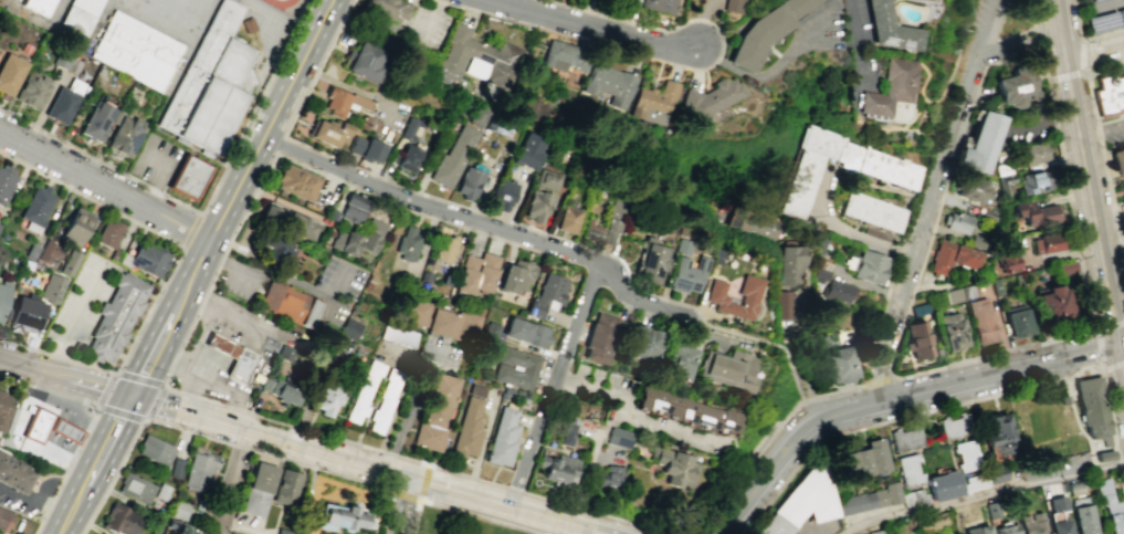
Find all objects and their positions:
building: (929, 0)
track: (279, 1)
park: (129, 4)
park: (203, 4)
building: (660, 4)
building: (36, 6)
building: (734, 6)
building: (796, 7)
building: (385, 8)
road: (1103, 8)
road: (483, 13)
building: (82, 14)
parking lot: (986, 14)
parking lot: (1103, 15)
park: (1019, 18)
road: (1038, 18)
park: (176, 19)
road: (736, 25)
road: (589, 27)
parking lot: (831, 28)
building: (889, 28)
road: (663, 30)
road: (991, 30)
road: (334, 35)
building: (758, 36)
road: (1082, 40)
road: (860, 43)
road: (997, 45)
building: (137, 51)
road: (1017, 51)
road: (1088, 53)
building: (566, 55)
building: (494, 56)
road: (992, 59)
building: (62, 61)
building: (364, 61)
road: (1016, 63)
road: (300, 70)
road: (1080, 73)
road: (1083, 73)
building: (10, 74)
road: (763, 74)
road: (314, 76)
building: (610, 84)
building: (210, 86)
building: (890, 87)
building: (1017, 88)
road: (351, 91)
building: (31, 93)
building: (1110, 95)
building: (343, 101)
building: (712, 101)
building: (655, 102)
building: (62, 106)
building: (477, 115)
building: (96, 122)
building: (503, 126)
building: (327, 130)
road: (1096, 130)
parking lot: (1114, 134)
building: (126, 138)
building: (984, 143)
road: (279, 144)
building: (367, 147)
building: (408, 147)
building: (528, 150)
road: (1100, 151)
building: (1037, 153)
building: (453, 156)
building: (1118, 158)
road: (74, 168)
building: (890, 171)
road: (166, 174)
building: (188, 176)
road: (1091, 177)
building: (547, 179)
building: (1123, 179)
building: (469, 180)
building: (294, 181)
building: (1038, 181)
building: (7, 184)
road: (354, 188)
road: (1070, 188)
building: (977, 189)
road: (239, 190)
railway: (1088, 190)
building: (502, 193)
building: (537, 205)
building: (36, 206)
road: (429, 206)
building: (353, 208)
road: (204, 209)
building: (873, 211)
road: (1084, 212)
building: (1037, 213)
building: (567, 219)
building: (750, 220)
building: (959, 221)
building: (285, 222)
building: (613, 222)
road: (180, 223)
building: (76, 226)
road: (845, 228)
road: (532, 229)
building: (592, 230)
road: (926, 230)
road: (155, 231)
road: (192, 231)
building: (109, 234)
building: (363, 238)
building: (1048, 242)
building: (407, 243)
building: (682, 245)
road: (209, 247)
building: (444, 249)
building: (49, 253)
building: (276, 253)
building: (953, 256)
building: (149, 259)
building: (1009, 259)
building: (651, 260)
building: (71, 263)
building: (792, 264)
building: (868, 265)
building: (1067, 268)
road: (197, 273)
building: (479, 273)
building: (686, 274)
building: (517, 276)
road: (283, 280)
building: (51, 287)
building: (841, 291)
building: (549, 295)
building: (954, 295)
road: (637, 297)
building: (716, 297)
building: (3, 299)
parking lot: (80, 302)
road: (201, 302)
road: (207, 302)
building: (790, 304)
building: (1053, 304)
building: (288, 305)
building: (413, 311)
building: (25, 313)
road: (238, 316)
road: (70, 317)
building: (114, 317)
road: (902, 320)
building: (981, 321)
building: (1017, 321)
building: (452, 324)
road: (266, 328)
building: (349, 328)
road: (188, 329)
building: (491, 329)
building: (952, 331)
building: (528, 333)
building: (398, 334)
building: (600, 338)
building: (832, 339)
building: (916, 339)
building: (643, 344)
road: (159, 345)
building: (221, 345)
road: (1101, 345)
road: (21, 346)
road: (232, 350)
building: (284, 353)
road: (52, 355)
road: (175, 357)
road: (202, 360)
building: (680, 362)
building: (840, 364)
road: (87, 365)
building: (240, 365)
road: (25, 368)
building: (518, 368)
building: (731, 369)
road: (1007, 373)
road: (212, 378)
road: (14, 379)
road: (164, 381)
road: (552, 385)
road: (92, 386)
building: (285, 391)
building: (364, 391)
road: (55, 392)
road: (185, 392)
building: (325, 397)
traffic signals: (132, 398)
road: (211, 400)
building: (385, 400)
building: (662, 402)
road: (958, 404)
road: (233, 407)
building: (4, 409)
road: (408, 411)
building: (435, 412)
road: (816, 412)
road: (185, 413)
building: (702, 416)
road: (146, 419)
road: (634, 419)
building: (727, 420)
building: (1097, 421)
building: (469, 422)
road: (20, 423)
building: (36, 423)
building: (953, 426)
building: (64, 430)
building: (566, 432)
building: (999, 432)
road: (15, 436)
road: (134, 437)
road: (334, 437)
building: (619, 437)
building: (905, 437)
building: (505, 438)
road: (78, 443)
road: (242, 446)
building: (154, 450)
road: (798, 451)
road: (326, 454)
building: (965, 456)
building: (863, 461)
road: (96, 465)
building: (674, 465)
road: (65, 467)
building: (175, 468)
building: (559, 469)
building: (908, 469)
building: (199, 471)
building: (13, 473)
building: (996, 474)
road: (342, 475)
building: (610, 477)
road: (232, 481)
building: (975, 482)
building: (284, 483)
building: (256, 484)
building: (943, 485)
building: (135, 488)
building: (160, 491)
road: (39, 493)
road: (983, 494)
building: (913, 498)
road: (421, 499)
building: (869, 499)
building: (801, 502)
road: (34, 503)
building: (1055, 503)
road: (46, 504)
road: (407, 507)
road: (503, 509)
building: (991, 509)
building: (179, 510)
road: (465, 512)
building: (343, 514)
building: (1114, 516)
building: (4, 519)
building: (1081, 519)
building: (119, 520)
road: (38, 524)
building: (1030, 524)
building: (1059, 526)
building: (175, 527)
building: (1005, 528)
building: (282, 530)
building: (976, 530)
building: (298, 532)
building: (876, 532)
building: (230, 533)

